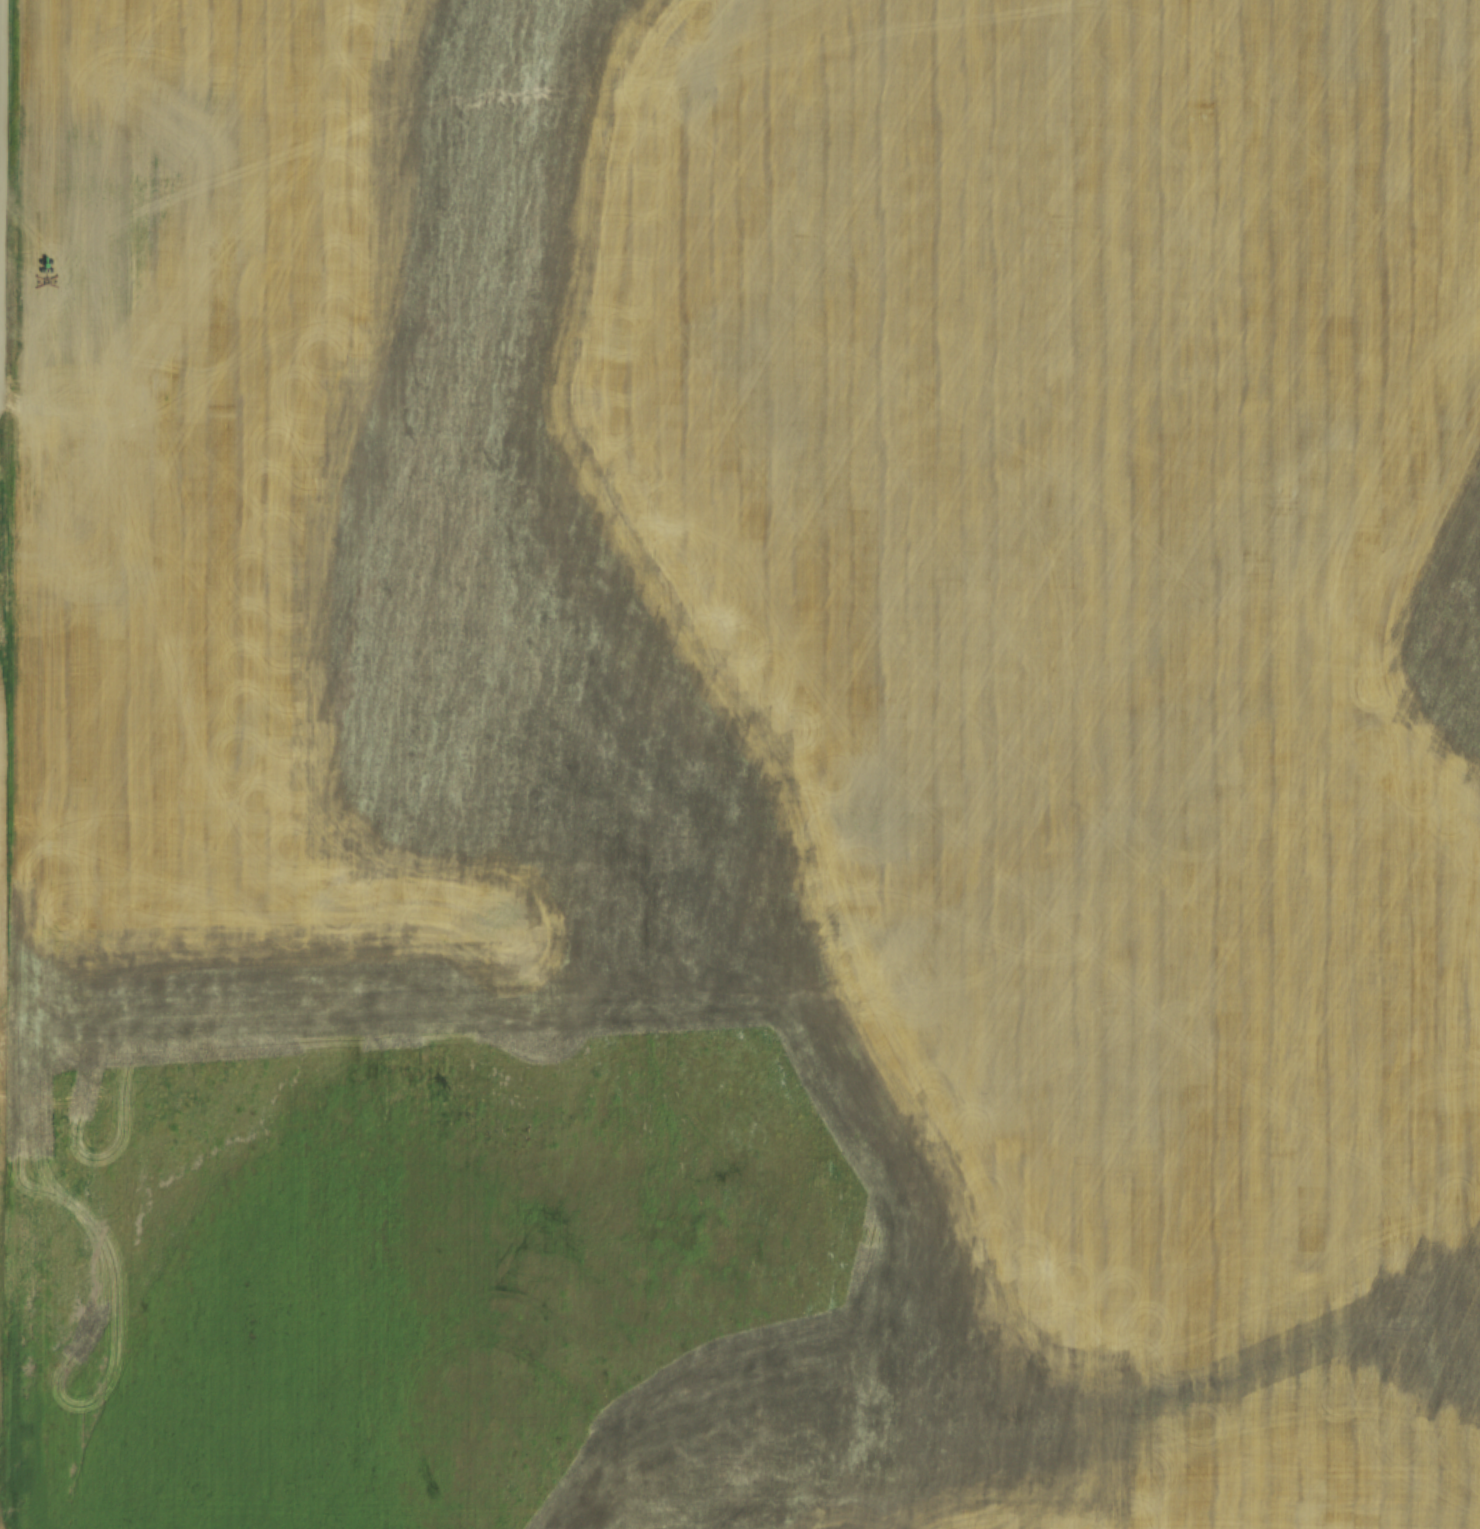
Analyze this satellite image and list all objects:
road: (1, 90)
road: (0, 320)
road: (0, 1405)

